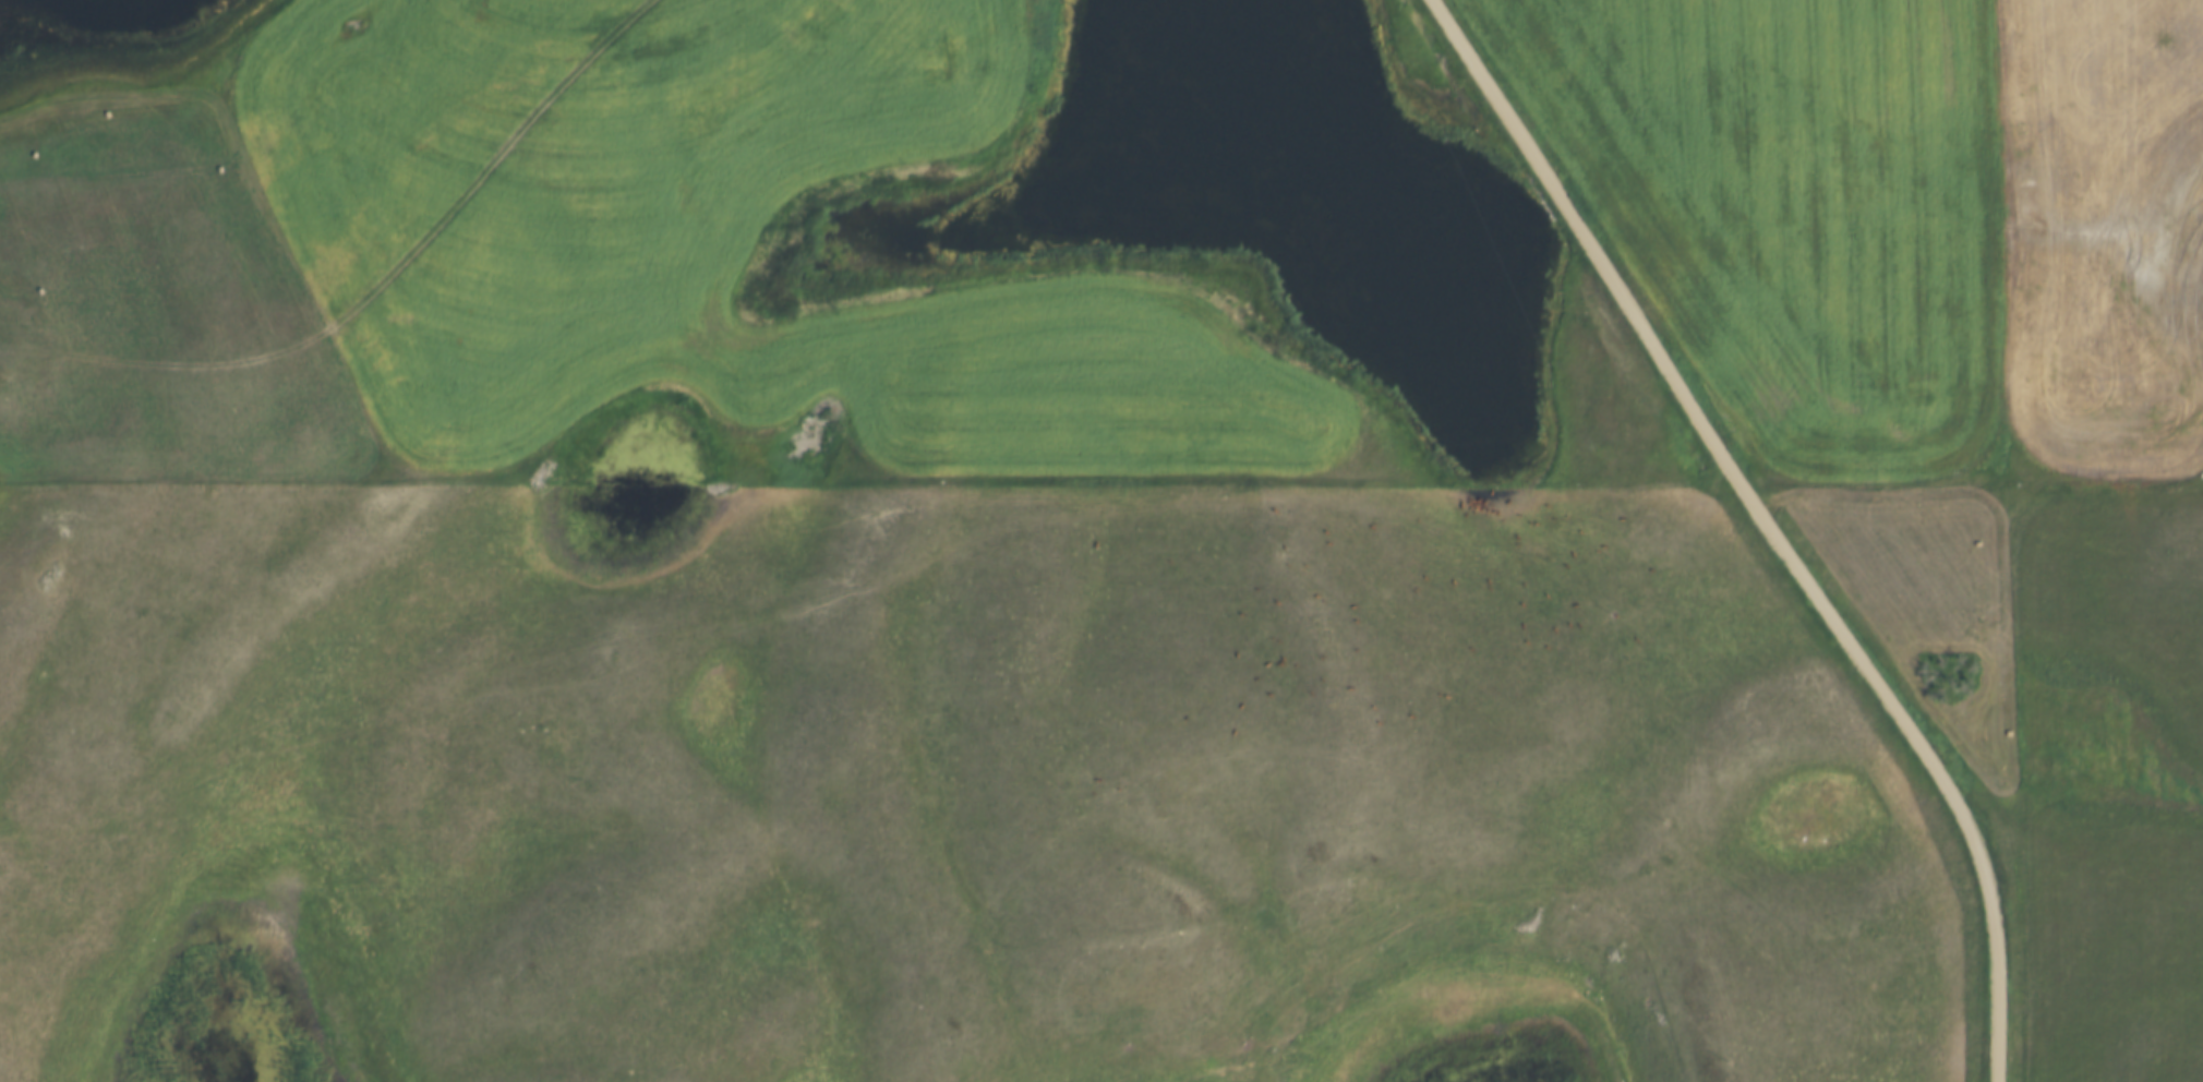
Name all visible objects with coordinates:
road: (1763, 525)

